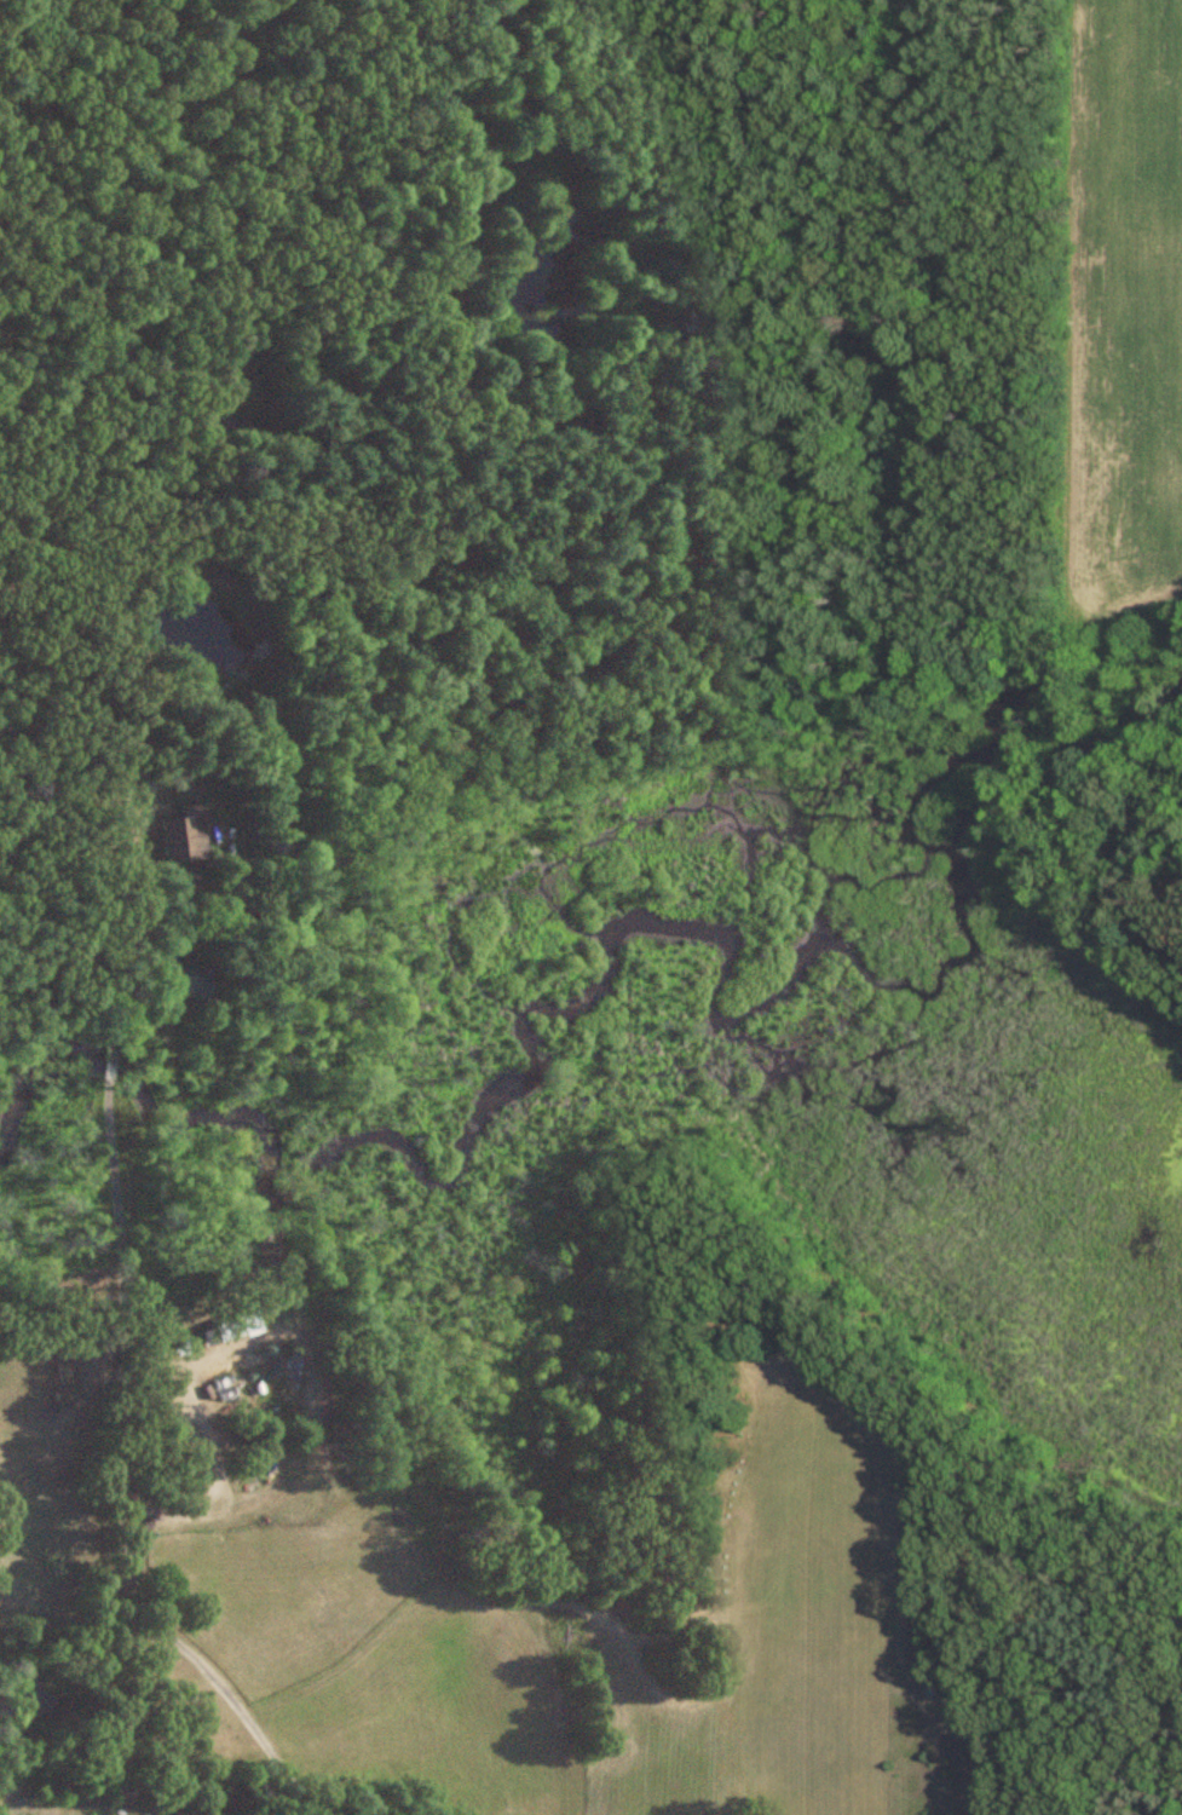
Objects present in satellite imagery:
building: (183, 837)
road: (115, 875)
building: (185, 978)
road: (111, 1070)
building: (229, 1330)
road: (121, 1494)

